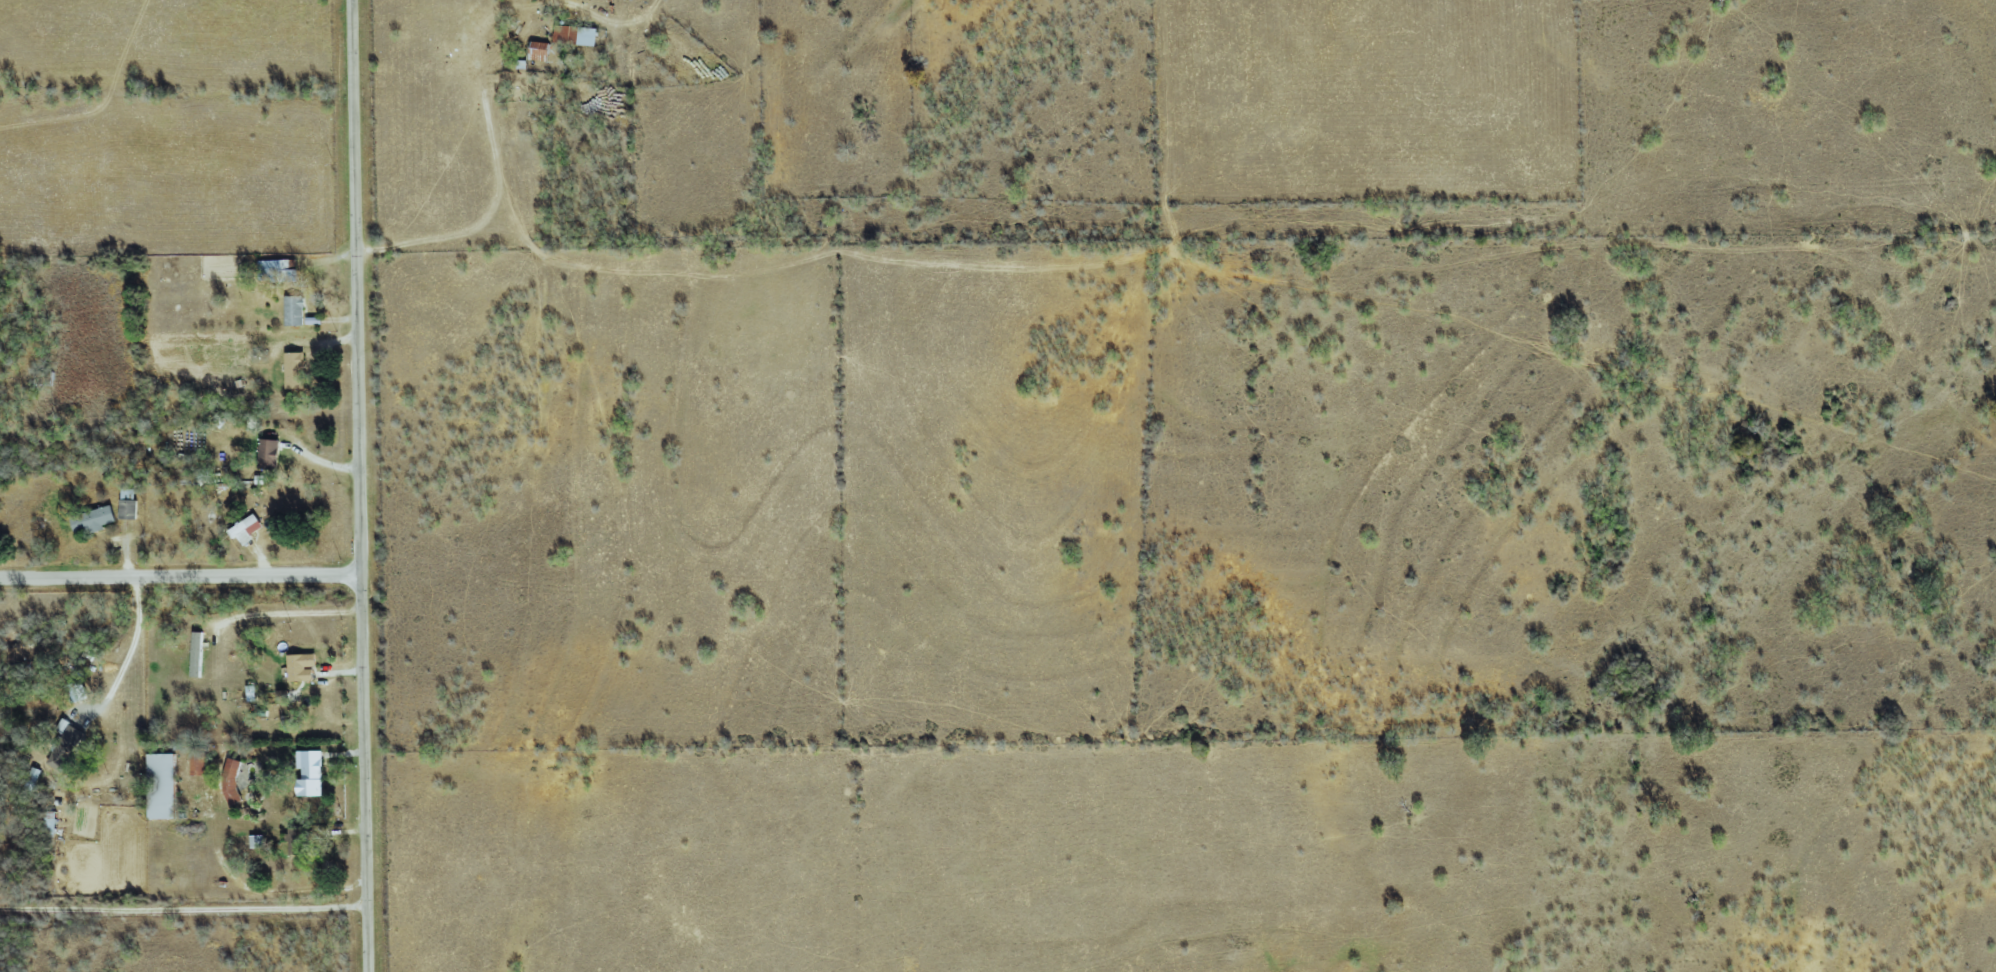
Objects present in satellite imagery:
building: (578, 35)
building: (541, 51)
road: (485, 120)
building: (279, 270)
building: (296, 310)
building: (296, 369)
building: (271, 453)
road: (360, 486)
building: (128, 505)
building: (93, 520)
building: (246, 528)
road: (181, 578)
road: (290, 613)
building: (198, 654)
road: (126, 656)
building: (302, 666)
building: (78, 691)
building: (252, 692)
building: (284, 696)
building: (66, 745)
building: (310, 772)
building: (162, 785)
building: (51, 823)
building: (256, 841)
building: (300, 841)
road: (184, 903)

